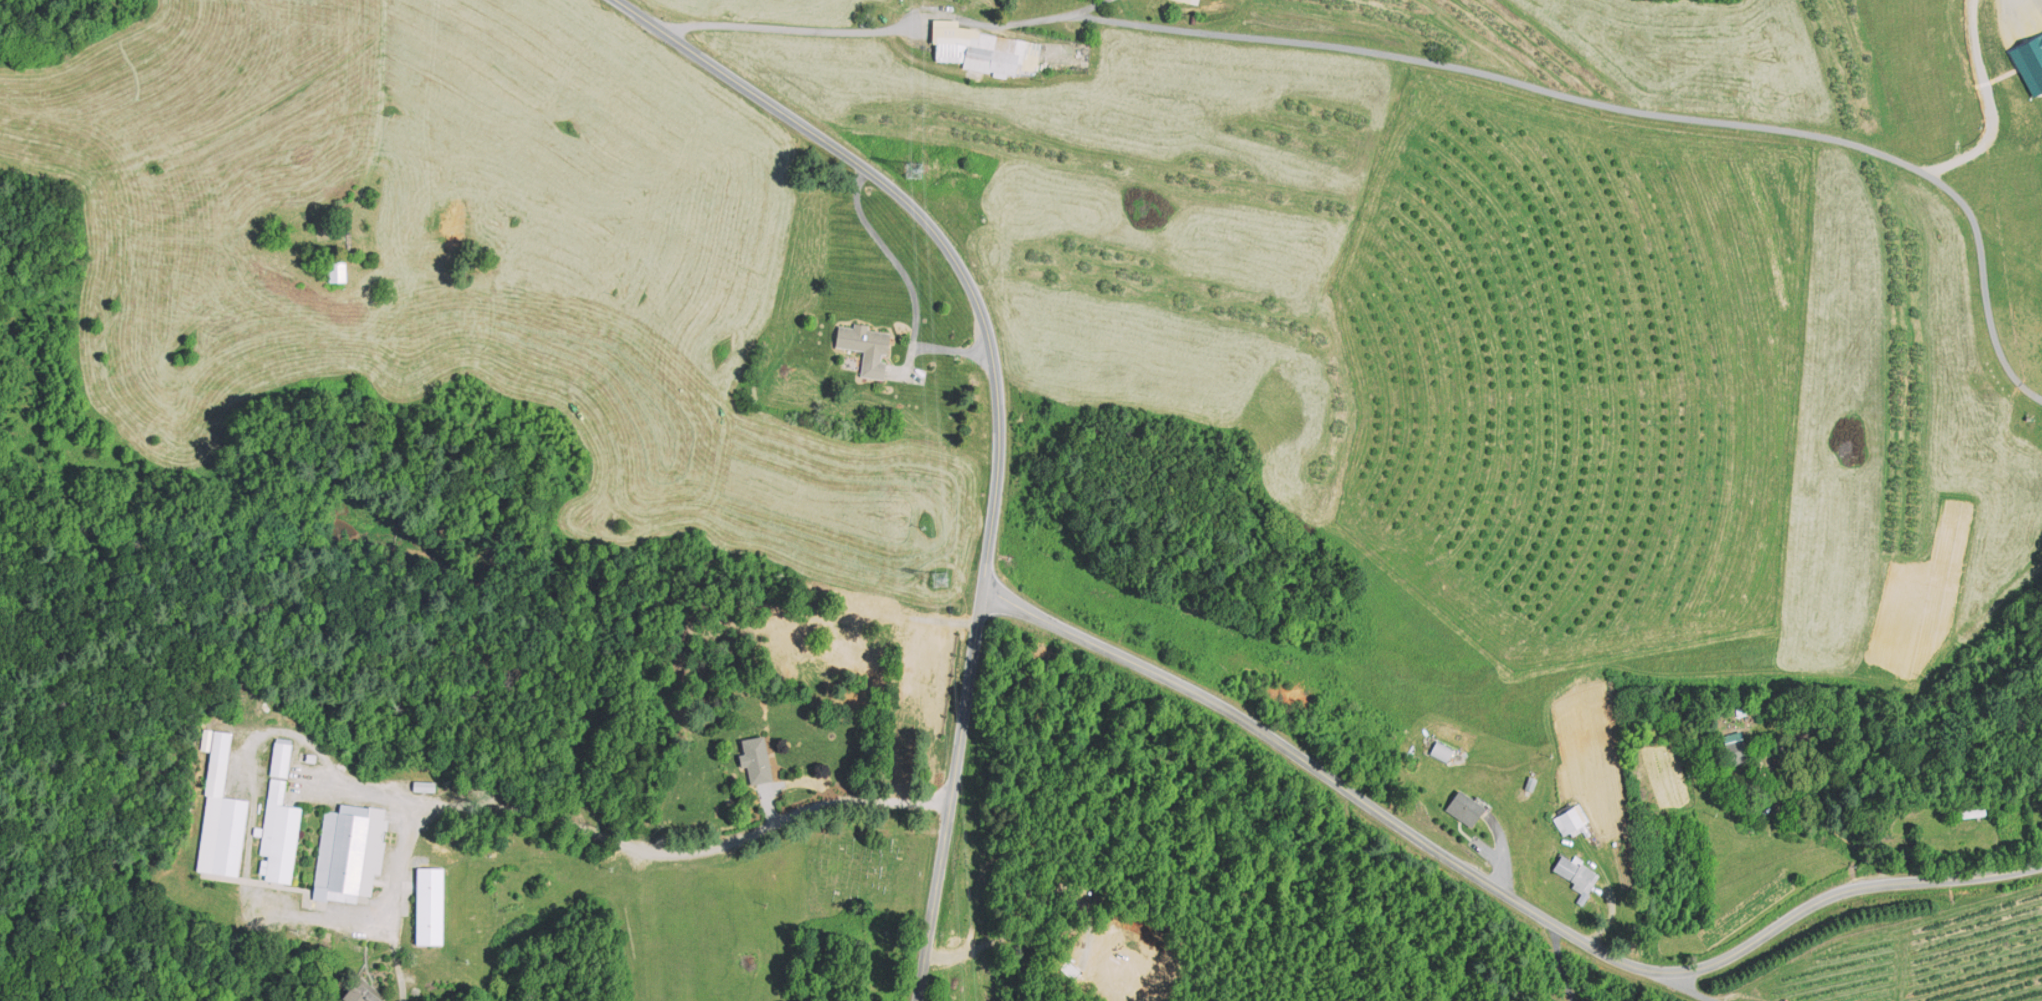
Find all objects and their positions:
building: (1191, 1)
building: (983, 49)
building: (2030, 62)
road: (1431, 63)
road: (378, 124)
power tower: (915, 170)
building: (337, 269)
road: (911, 286)
building: (867, 345)
road: (999, 414)
power tower: (943, 580)
building: (1742, 711)
building: (206, 739)
building: (1736, 747)
building: (1442, 750)
building: (281, 757)
building: (756, 757)
building: (1530, 784)
building: (425, 785)
building: (1464, 807)
building: (1974, 812)
building: (221, 814)
building: (1573, 820)
building: (278, 832)
road: (623, 840)
building: (348, 850)
park: (870, 869)
building: (1575, 875)
road: (1495, 884)
building: (430, 905)
road: (1563, 962)
road: (399, 969)
road: (1688, 989)
building: (362, 992)

